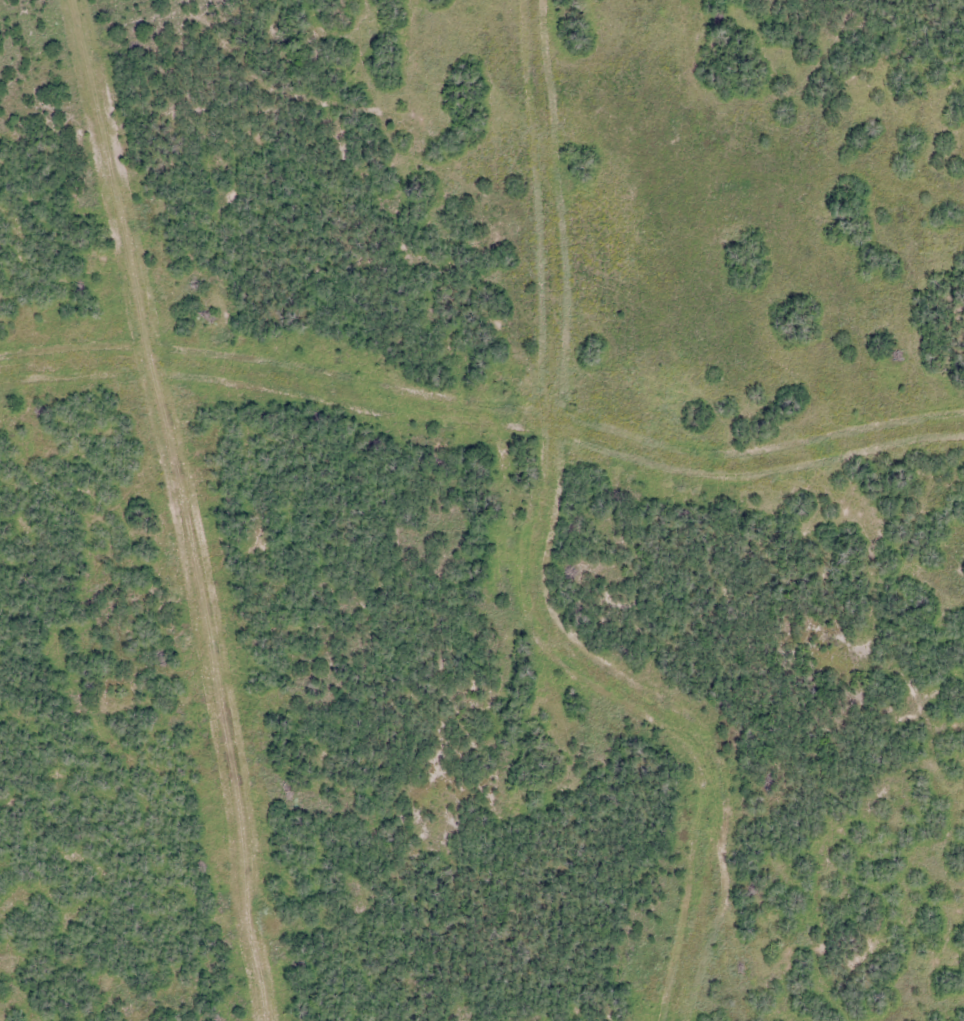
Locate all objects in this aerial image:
road: (129, 511)

